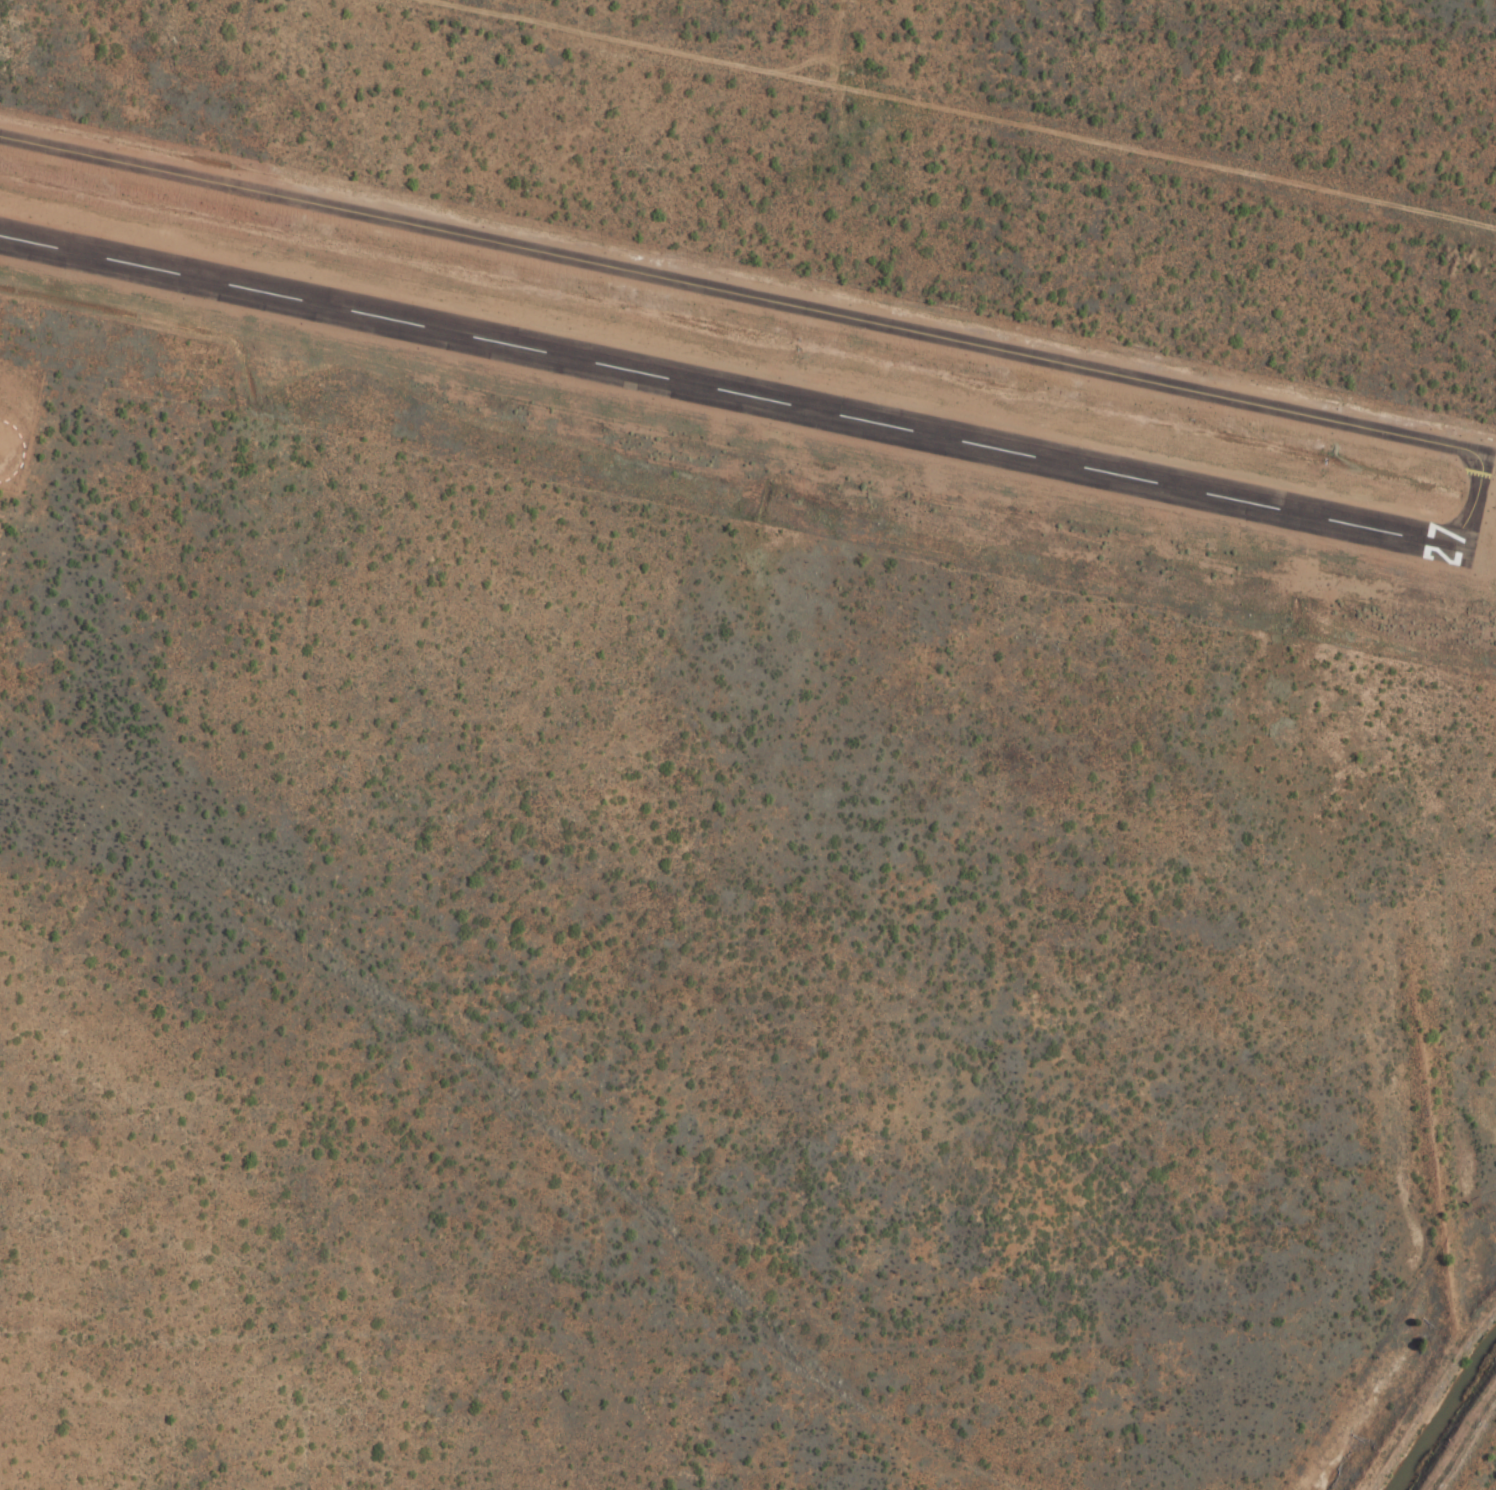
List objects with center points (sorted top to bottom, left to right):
road: (963, 111)
airport taxiway: (782, 307)
airport runway: (729, 393)

